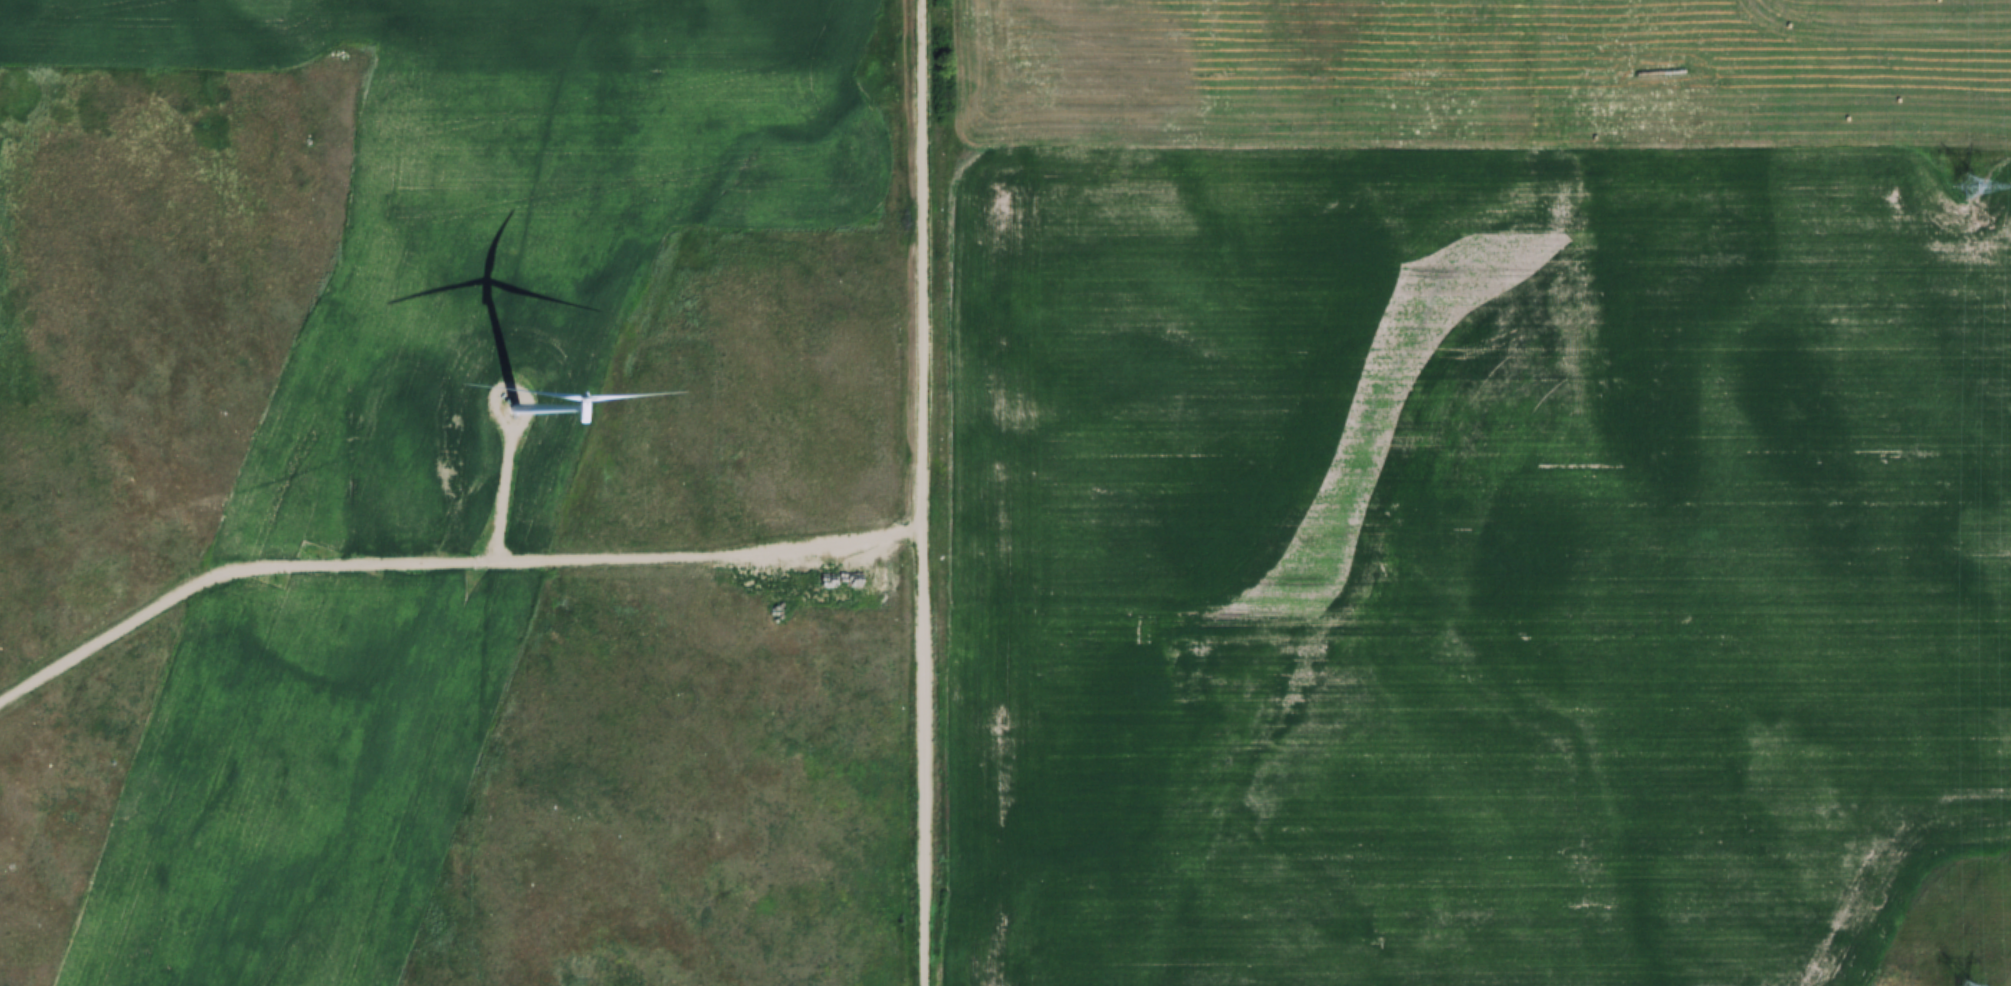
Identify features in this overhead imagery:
power tower: (1966, 182)
wind turbine: (513, 403)
road: (924, 493)

